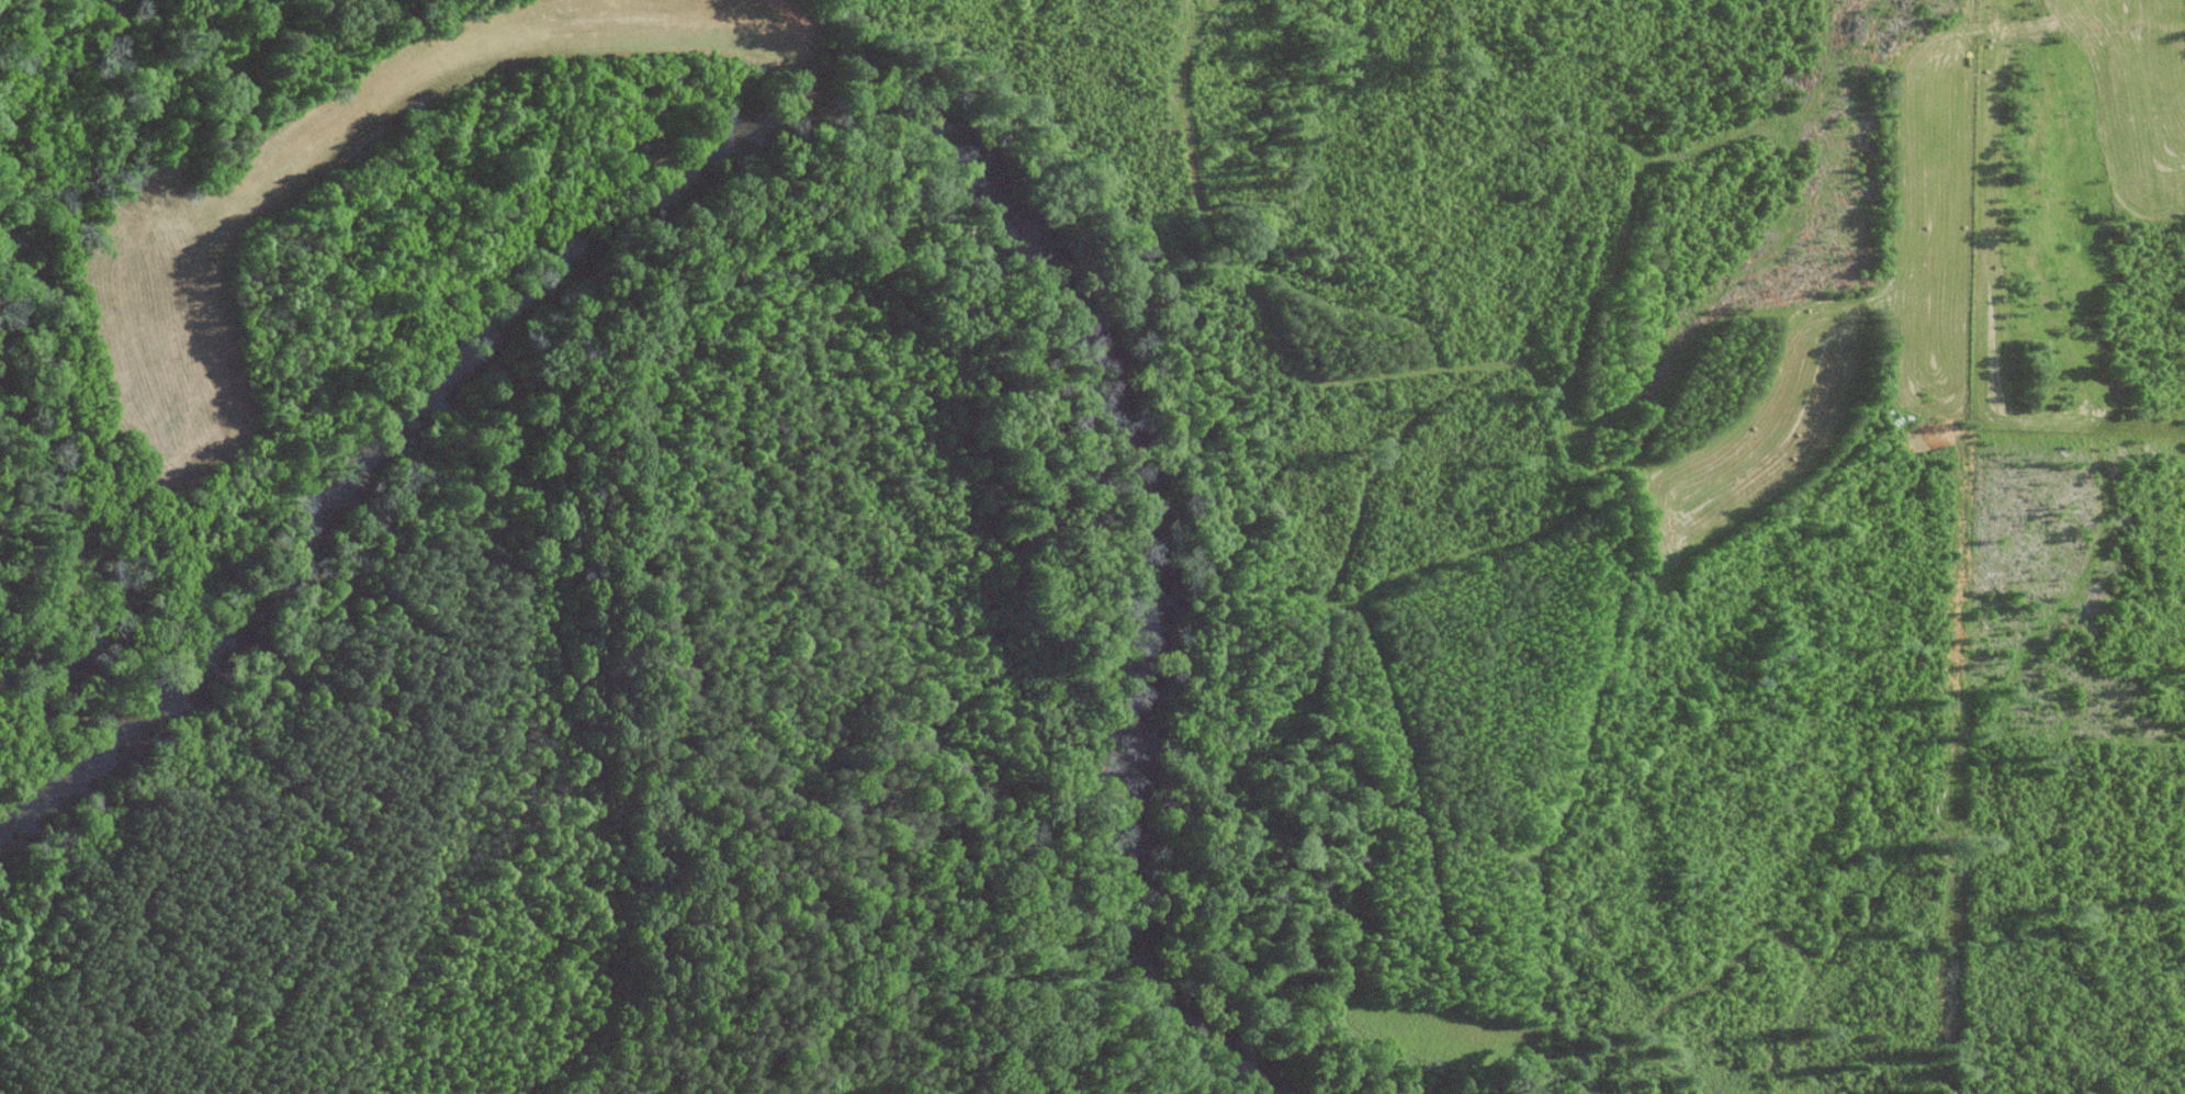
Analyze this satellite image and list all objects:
river: (555, 290)
river: (1136, 732)
park: (383, 787)
river: (64, 808)
river: (3, 858)

